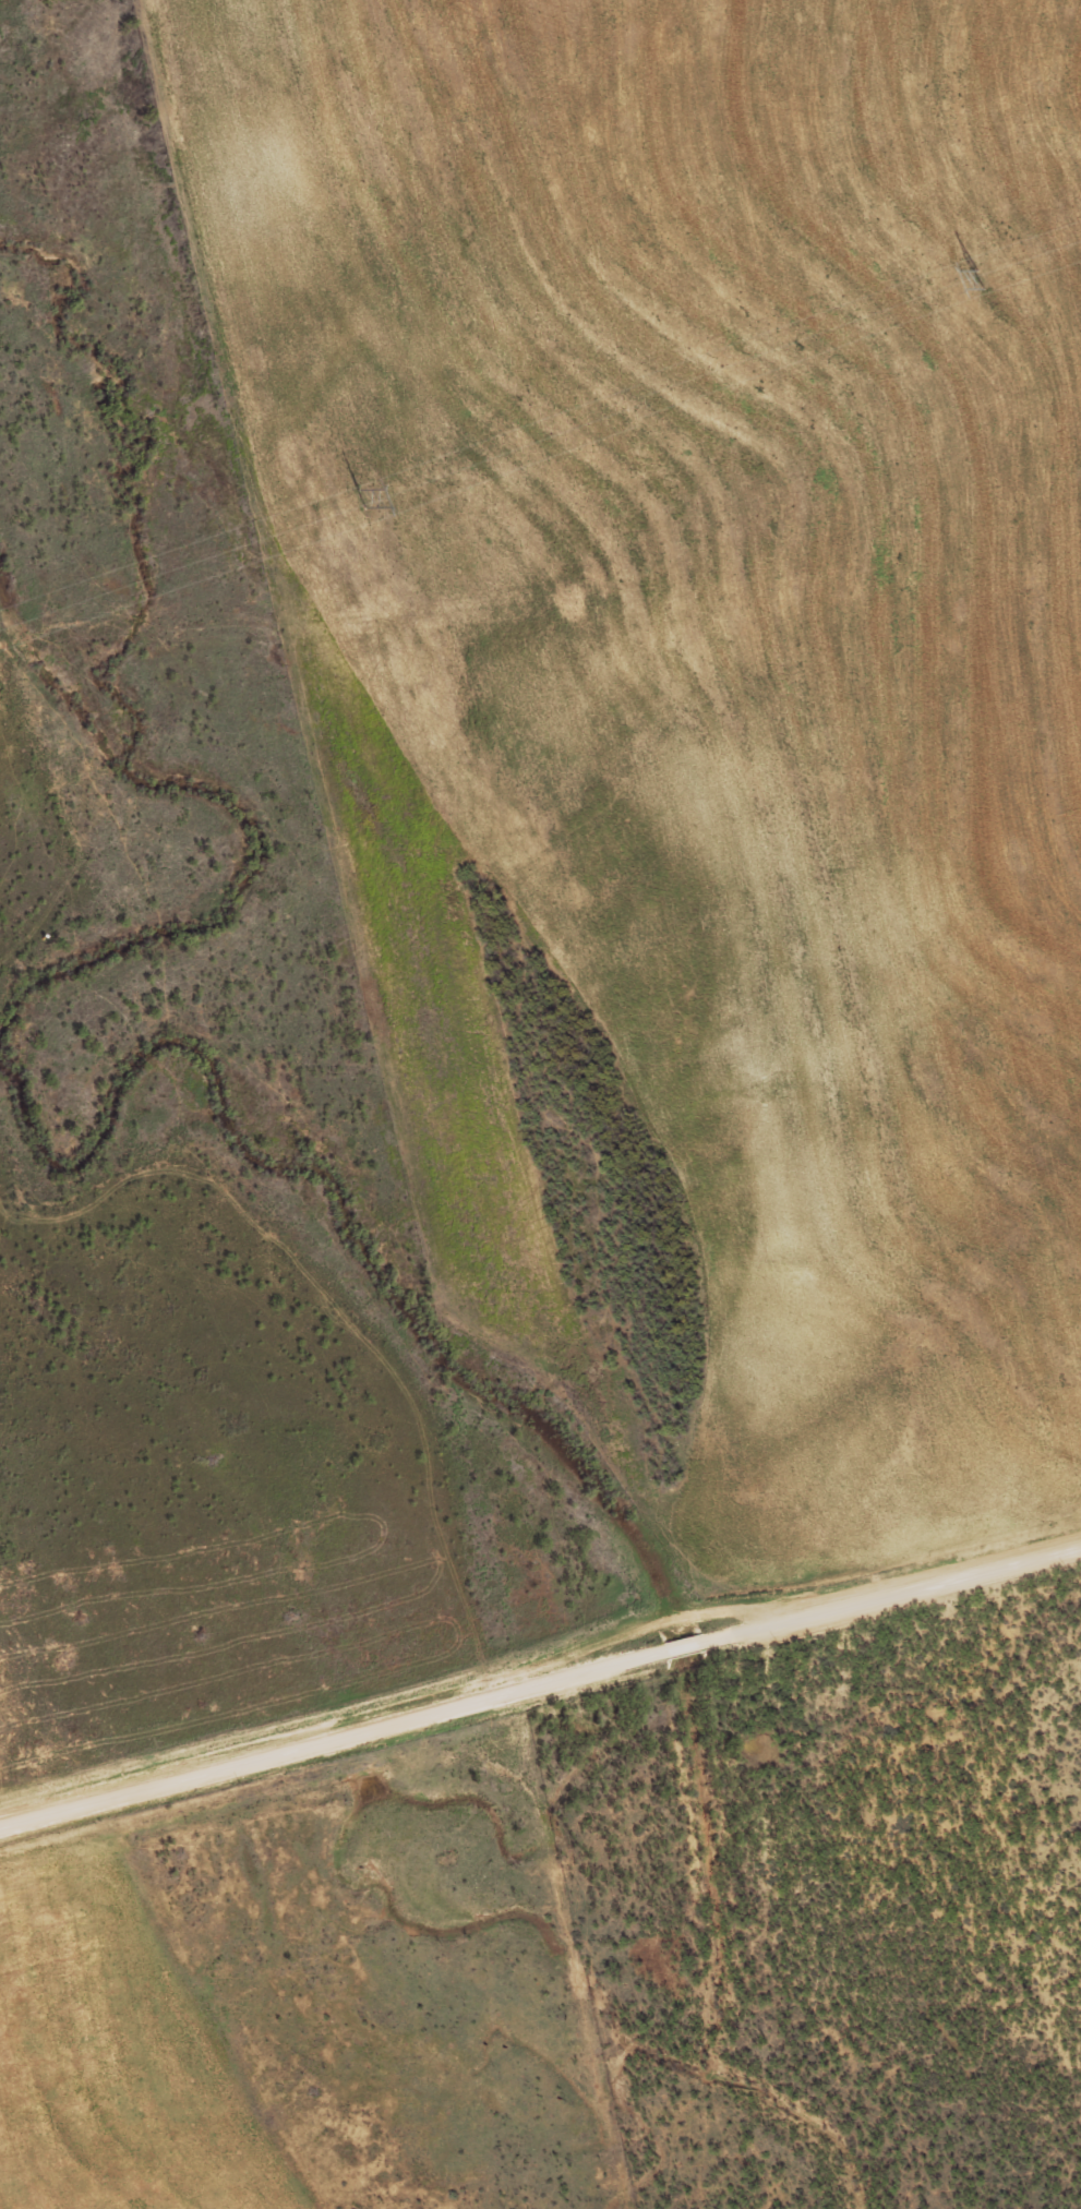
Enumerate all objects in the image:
power tower: (976, 279)
power tower: (357, 495)
road: (540, 1712)

